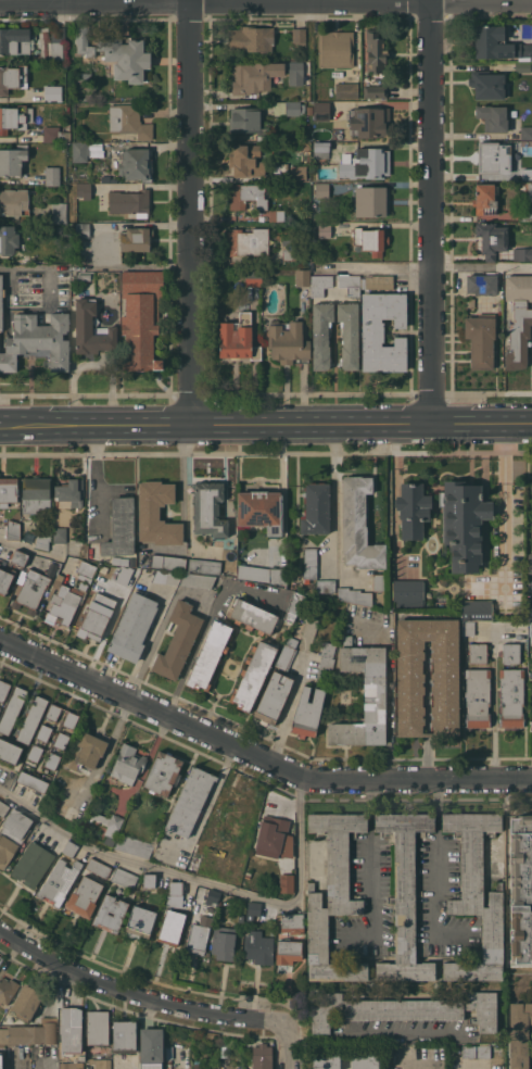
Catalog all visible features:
road: (266, 2)
building: (299, 36)
building: (250, 38)
building: (14, 40)
building: (58, 43)
building: (84, 43)
building: (496, 43)
building: (335, 49)
building: (375, 51)
building: (125, 56)
building: (522, 66)
building: (295, 72)
building: (254, 76)
building: (12, 78)
building: (487, 85)
building: (346, 90)
building: (376, 91)
building: (53, 93)
building: (87, 96)
building: (279, 108)
building: (294, 108)
building: (309, 110)
building: (321, 111)
building: (14, 117)
building: (493, 117)
building: (129, 121)
building: (249, 121)
building: (368, 121)
building: (525, 133)
building: (55, 134)
building: (321, 149)
building: (79, 151)
building: (491, 156)
building: (246, 160)
building: (12, 161)
building: (365, 163)
building: (137, 164)
building: (527, 173)
building: (297, 174)
building: (52, 175)
building: (107, 178)
building: (322, 188)
building: (83, 189)
building: (530, 191)
building: (246, 196)
building: (485, 198)
building: (371, 201)
building: (14, 202)
building: (130, 202)
road: (430, 211)
building: (59, 212)
road: (189, 212)
building: (525, 213)
building: (276, 215)
building: (324, 230)
building: (136, 238)
building: (491, 238)
building: (8, 239)
building: (81, 240)
building: (370, 240)
building: (248, 241)
building: (288, 250)
building: (524, 253)
road: (405, 265)
road: (29, 266)
building: (84, 277)
building: (253, 277)
building: (302, 278)
building: (377, 281)
building: (320, 284)
building: (350, 284)
building: (481, 284)
building: (1, 301)
building: (471, 302)
building: (141, 318)
building: (518, 319)
building: (91, 329)
building: (382, 331)
building: (349, 334)
building: (321, 335)
building: (238, 338)
building: (480, 340)
building: (37, 341)
building: (288, 341)
road: (268, 424)
road: (3, 428)
road: (94, 480)
building: (531, 488)
building: (8, 490)
road: (187, 492)
building: (69, 493)
building: (36, 494)
road: (505, 498)
road: (333, 499)
building: (208, 508)
building: (316, 508)
building: (261, 510)
building: (413, 510)
building: (156, 514)
road: (390, 519)
building: (463, 523)
building: (43, 525)
building: (358, 525)
building: (121, 528)
building: (12, 529)
building: (60, 534)
building: (43, 539)
road: (29, 550)
building: (18, 556)
building: (132, 562)
building: (530, 562)
building: (168, 563)
building: (311, 563)
building: (204, 565)
building: (86, 570)
building: (262, 574)
building: (183, 578)
building: (5, 579)
building: (379, 581)
building: (326, 586)
building: (30, 589)
building: (408, 594)
building: (355, 595)
building: (64, 601)
building: (293, 606)
building: (21, 607)
building: (477, 609)
building: (530, 614)
building: (96, 616)
building: (253, 616)
road: (205, 625)
building: (134, 626)
building: (468, 627)
building: (530, 628)
building: (178, 641)
building: (478, 652)
building: (510, 653)
building: (210, 655)
building: (326, 662)
building: (253, 675)
building: (530, 675)
building: (444, 677)
building: (277, 684)
building: (3, 690)
building: (364, 695)
building: (511, 696)
road: (389, 697)
building: (477, 697)
road: (493, 702)
building: (12, 709)
building: (53, 712)
building: (307, 713)
building: (31, 718)
building: (71, 719)
building: (531, 726)
building: (45, 732)
building: (61, 740)
building: (9, 751)
building: (86, 752)
building: (35, 753)
road: (255, 756)
building: (52, 760)
building: (128, 764)
building: (163, 772)
building: (29, 787)
building: (190, 801)
building: (3, 807)
building: (235, 813)
building: (110, 822)
building: (12, 834)
building: (271, 834)
building: (134, 845)
building: (69, 848)
road: (436, 857)
road: (371, 858)
building: (33, 864)
building: (99, 868)
building: (220, 870)
building: (248, 875)
building: (125, 878)
building: (149, 880)
building: (59, 881)
building: (284, 882)
road: (200, 884)
building: (521, 889)
building: (175, 894)
building: (477, 895)
building: (85, 896)
building: (332, 896)
building: (405, 896)
building: (213, 897)
building: (253, 909)
building: (111, 914)
building: (241, 917)
building: (139, 922)
building: (292, 923)
building: (172, 927)
building: (199, 934)
building: (224, 942)
building: (259, 947)
building: (288, 952)
building: (7, 990)
road: (138, 993)
building: (27, 1003)
building: (403, 1009)
building: (98, 1027)
road: (373, 1032)
building: (29, 1034)
building: (72, 1034)
building: (519, 1034)
building: (124, 1036)
road: (291, 1045)
building: (151, 1048)
building: (468, 1051)
building: (483, 1052)
building: (263, 1056)
building: (90, 1060)
building: (326, 1060)
building: (365, 1060)
building: (103, 1064)
building: (72, 1065)
building: (198, 1065)

